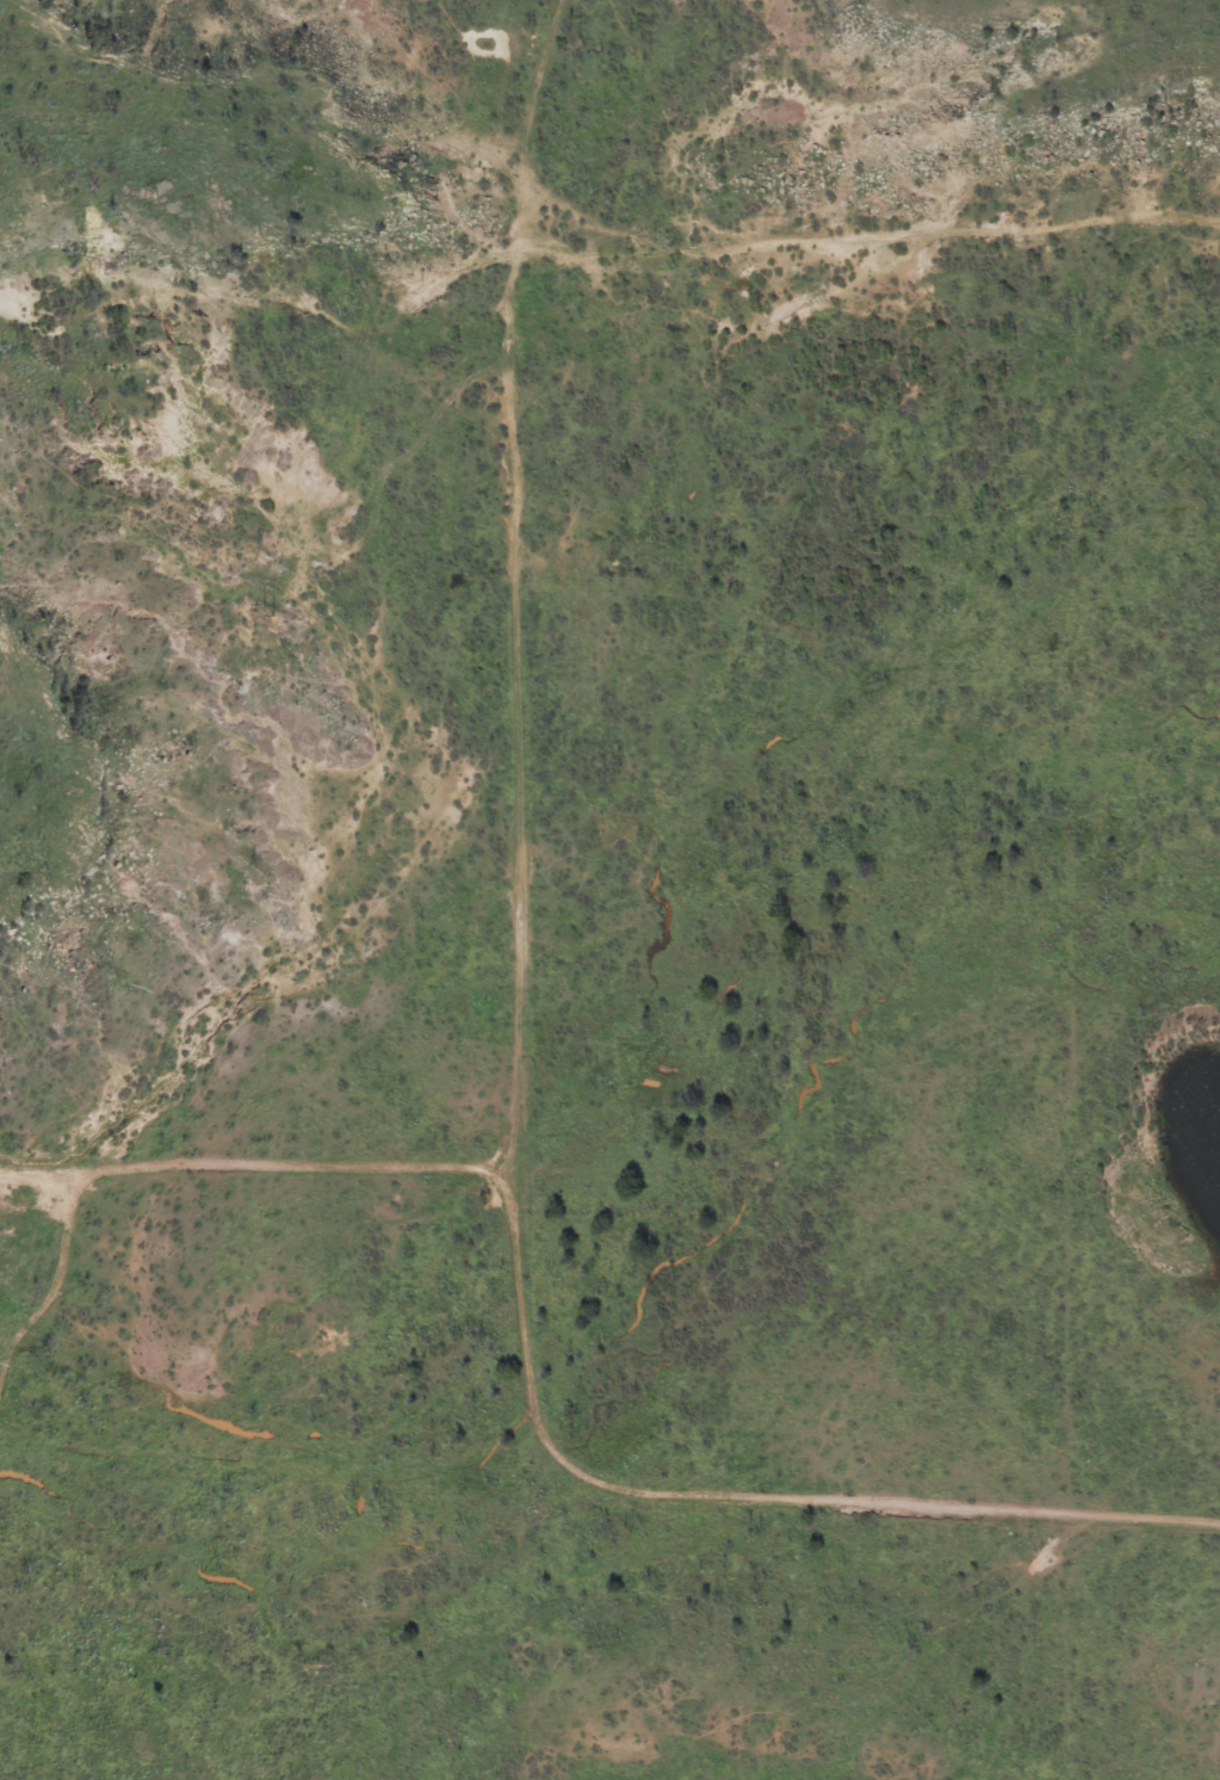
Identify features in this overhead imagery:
road: (166, 1409)
road: (255, 1531)

